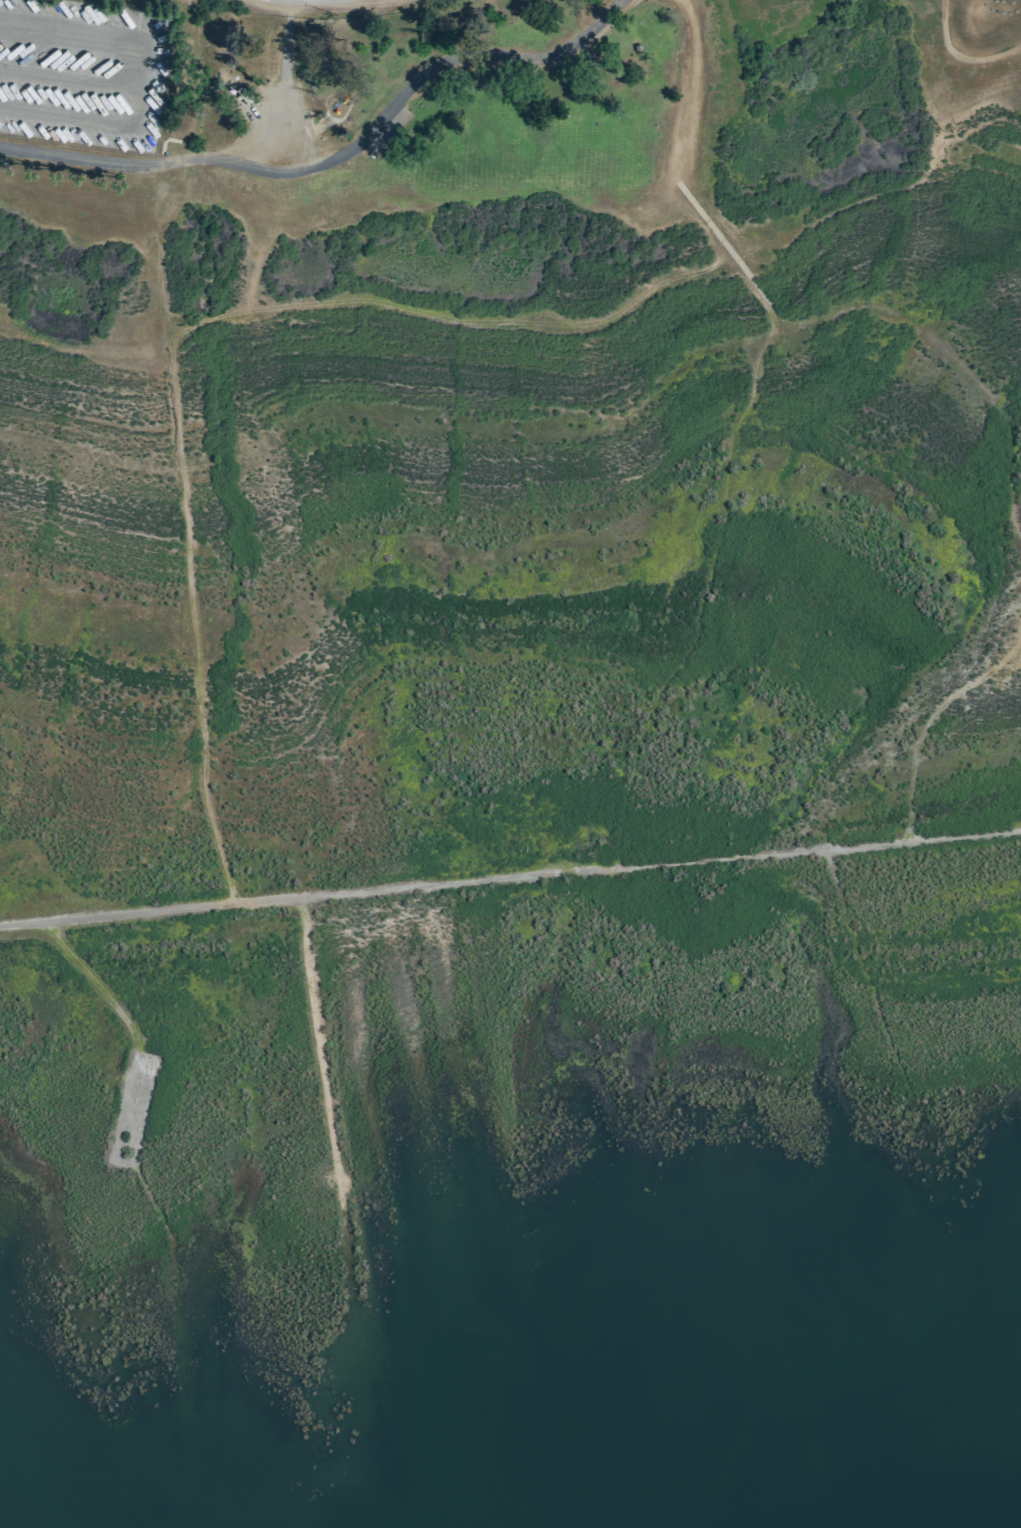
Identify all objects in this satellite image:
parking lot: (83, 72)
road: (690, 90)
road: (282, 97)
road: (296, 150)
road: (338, 158)
road: (721, 241)
road: (452, 314)
road: (748, 407)
road: (186, 532)
park: (487, 640)
road: (930, 720)
road: (965, 835)
road: (454, 882)
road: (99, 986)
road: (134, 1112)
road: (333, 1131)

